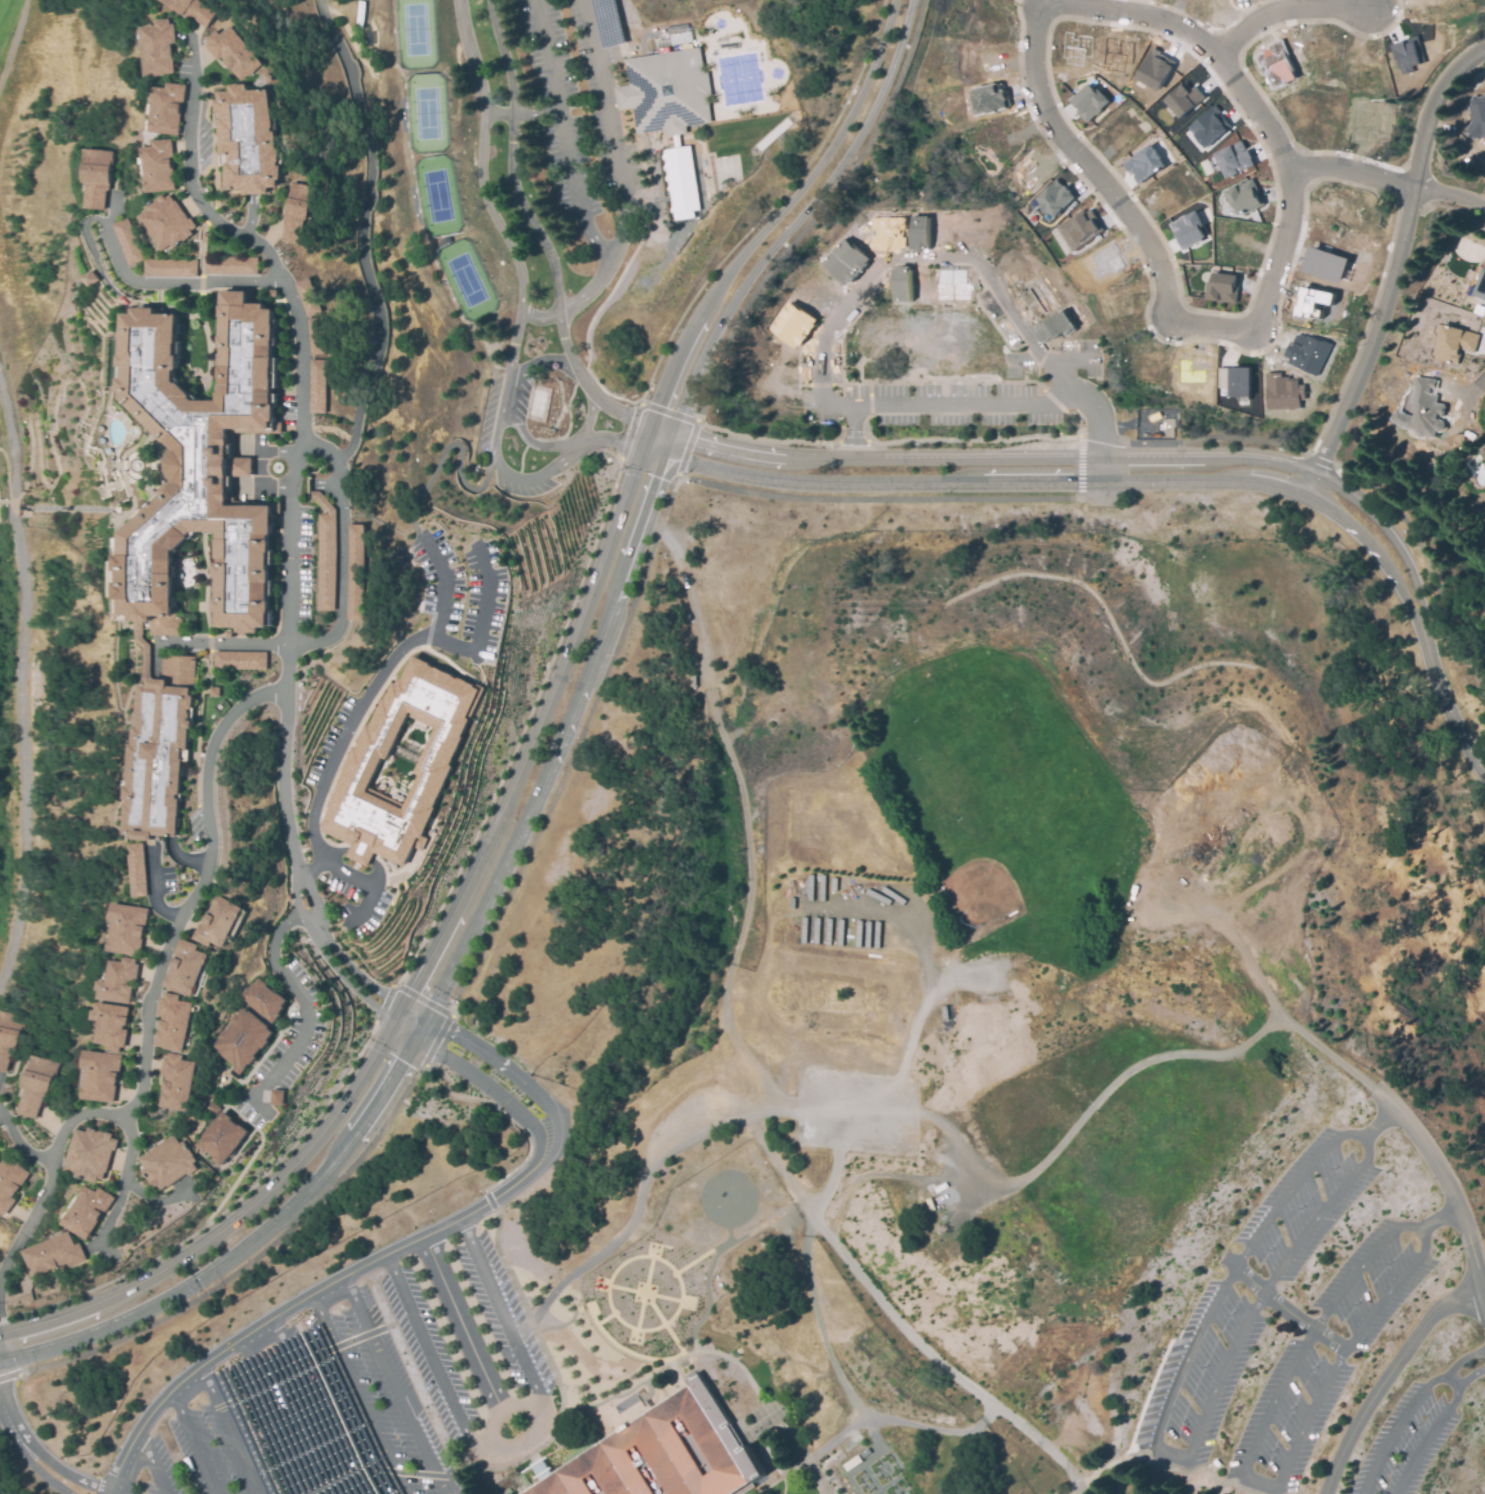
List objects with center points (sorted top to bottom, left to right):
building: (192, 10)
road: (1287, 14)
park: (13, 22)
park: (800, 27)
building: (679, 37)
road: (12, 41)
building: (157, 48)
building: (1074, 48)
building: (233, 52)
building: (1406, 55)
building: (1277, 64)
building: (1155, 69)
building: (668, 90)
building: (1185, 99)
building: (988, 100)
building: (1089, 101)
building: (166, 108)
road: (534, 113)
building: (1476, 120)
road: (610, 126)
building: (1210, 127)
road: (560, 134)
road: (1062, 137)
building: (243, 139)
building: (1235, 159)
park: (441, 161)
building: (1144, 164)
building: (158, 167)
road: (1353, 172)
building: (681, 177)
building: (97, 178)
park: (686, 183)
building: (1245, 197)
road: (1450, 197)
building: (1057, 200)
road: (769, 207)
building: (296, 209)
road: (824, 217)
road: (490, 219)
road: (775, 219)
building: (165, 222)
road: (797, 223)
building: (1188, 229)
building: (1078, 230)
road: (533, 232)
road: (359, 233)
building: (887, 233)
building: (919, 233)
building: (207, 237)
building: (126, 242)
road: (884, 259)
building: (844, 260)
building: (231, 263)
building: (1328, 265)
building: (169, 268)
road: (1390, 271)
building: (92, 281)
road: (615, 282)
road: (176, 284)
building: (901, 285)
building: (950, 285)
building: (1480, 286)
building: (1223, 288)
building: (308, 297)
building: (1316, 302)
building: (1054, 327)
building: (1124, 331)
building: (317, 336)
road: (515, 343)
building: (1455, 344)
building: (1306, 352)
building: (1452, 378)
building: (1236, 381)
road: (1476, 384)
building: (318, 386)
building: (1282, 392)
road: (1085, 401)
road: (969, 404)
building: (1428, 407)
road: (668, 413)
building: (1149, 426)
road: (600, 437)
road: (658, 438)
road: (625, 445)
road: (496, 446)
road: (534, 448)
road: (297, 451)
road: (994, 458)
road: (1318, 460)
road: (1080, 463)
road: (261, 464)
road: (457, 464)
building: (204, 469)
road: (986, 480)
road: (671, 500)
road: (1390, 538)
road: (1378, 551)
building: (323, 553)
building: (354, 573)
road: (340, 612)
road: (482, 620)
road: (941, 655)
building: (239, 659)
road: (17, 679)
road: (792, 681)
building: (694, 682)
road: (372, 686)
building: (214, 691)
road: (1445, 705)
road: (532, 724)
road: (558, 743)
building: (436, 761)
building: (158, 764)
road: (1299, 804)
road: (746, 808)
road: (183, 862)
road: (297, 879)
road: (359, 880)
park: (984, 891)
road: (155, 892)
road: (836, 910)
road: (309, 917)
building: (216, 924)
building: (128, 933)
road: (1235, 933)
road: (169, 946)
road: (333, 948)
road: (322, 956)
building: (185, 970)
building: (119, 986)
building: (265, 1002)
road: (382, 1004)
road: (301, 1005)
road: (449, 1012)
road: (399, 1013)
road: (919, 1018)
road: (395, 1021)
building: (170, 1023)
road: (409, 1025)
building: (111, 1029)
building: (8, 1039)
building: (243, 1040)
road: (1204, 1056)
building: (100, 1079)
building: (177, 1083)
building: (38, 1090)
building: (277, 1099)
building: (209, 1107)
road: (504, 1112)
road: (78, 1117)
road: (1381, 1122)
road: (690, 1139)
building: (223, 1140)
road: (18, 1146)
building: (91, 1156)
park: (1137, 1160)
building: (165, 1164)
building: (10, 1186)
road: (1292, 1187)
road: (491, 1200)
road: (153, 1202)
building: (87, 1213)
road: (1320, 1214)
road: (1441, 1219)
road: (29, 1222)
road: (230, 1223)
road: (249, 1247)
road: (385, 1256)
building: (55, 1257)
road: (707, 1270)
road: (1392, 1290)
road: (644, 1292)
road: (645, 1292)
road: (608, 1297)
road: (1288, 1308)
road: (640, 1310)
road: (501, 1313)
road: (666, 1323)
road: (816, 1326)
road: (376, 1330)
road: (468, 1334)
road: (674, 1337)
road: (430, 1356)
road: (689, 1358)
road: (953, 1373)
road: (10, 1375)
road: (1470, 1376)
road: (1388, 1377)
road: (416, 1380)
road: (1452, 1381)
road: (263, 1384)
road: (393, 1387)
road: (364, 1393)
road: (311, 1407)
road: (1410, 1408)
road: (1268, 1412)
road: (273, 1415)
road: (902, 1424)
road: (230, 1429)
road: (530, 1431)
road: (1426, 1440)
road: (187, 1441)
road: (31, 1451)
building: (657, 1453)
road: (1162, 1453)
road: (150, 1464)
road: (387, 1469)
road: (818, 1473)
road: (778, 1475)
road: (784, 1484)
road: (115, 1487)
road: (823, 1491)
road: (1076, 1492)

